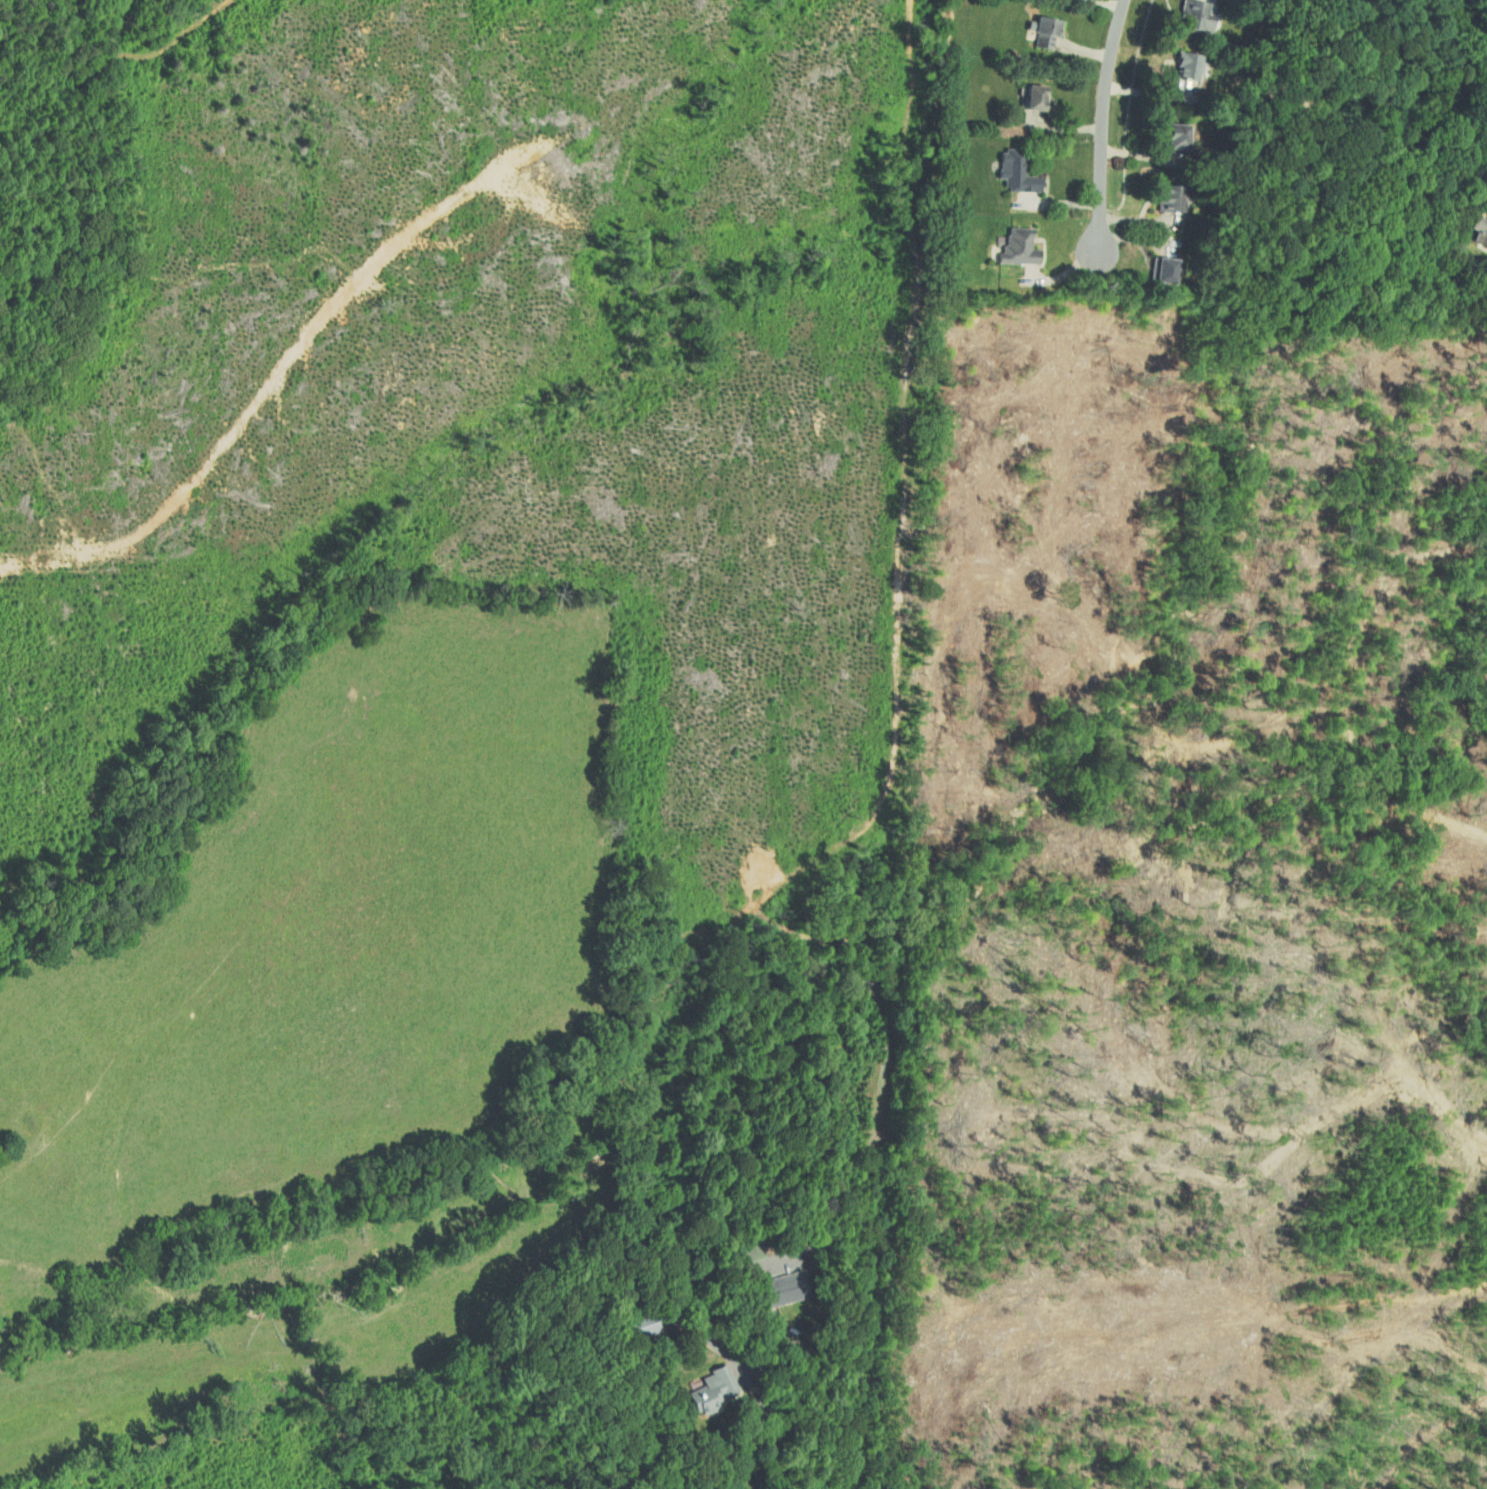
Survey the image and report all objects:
building: (1204, 13)
building: (1049, 30)
building: (1191, 63)
road: (1129, 112)
road: (1103, 125)
building: (1189, 136)
building: (1021, 172)
building: (1176, 199)
building: (1478, 230)
building: (1024, 247)
road: (756, 1266)
building: (792, 1285)
road: (814, 1346)
building: (714, 1389)
road: (848, 1469)

